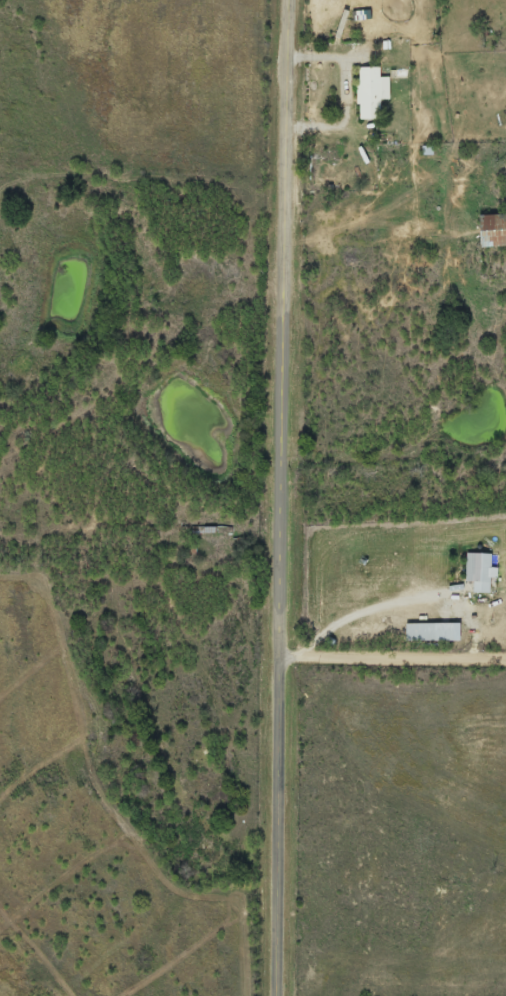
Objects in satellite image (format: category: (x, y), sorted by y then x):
building: (367, 93)
road: (279, 497)
building: (476, 571)
road: (392, 661)

